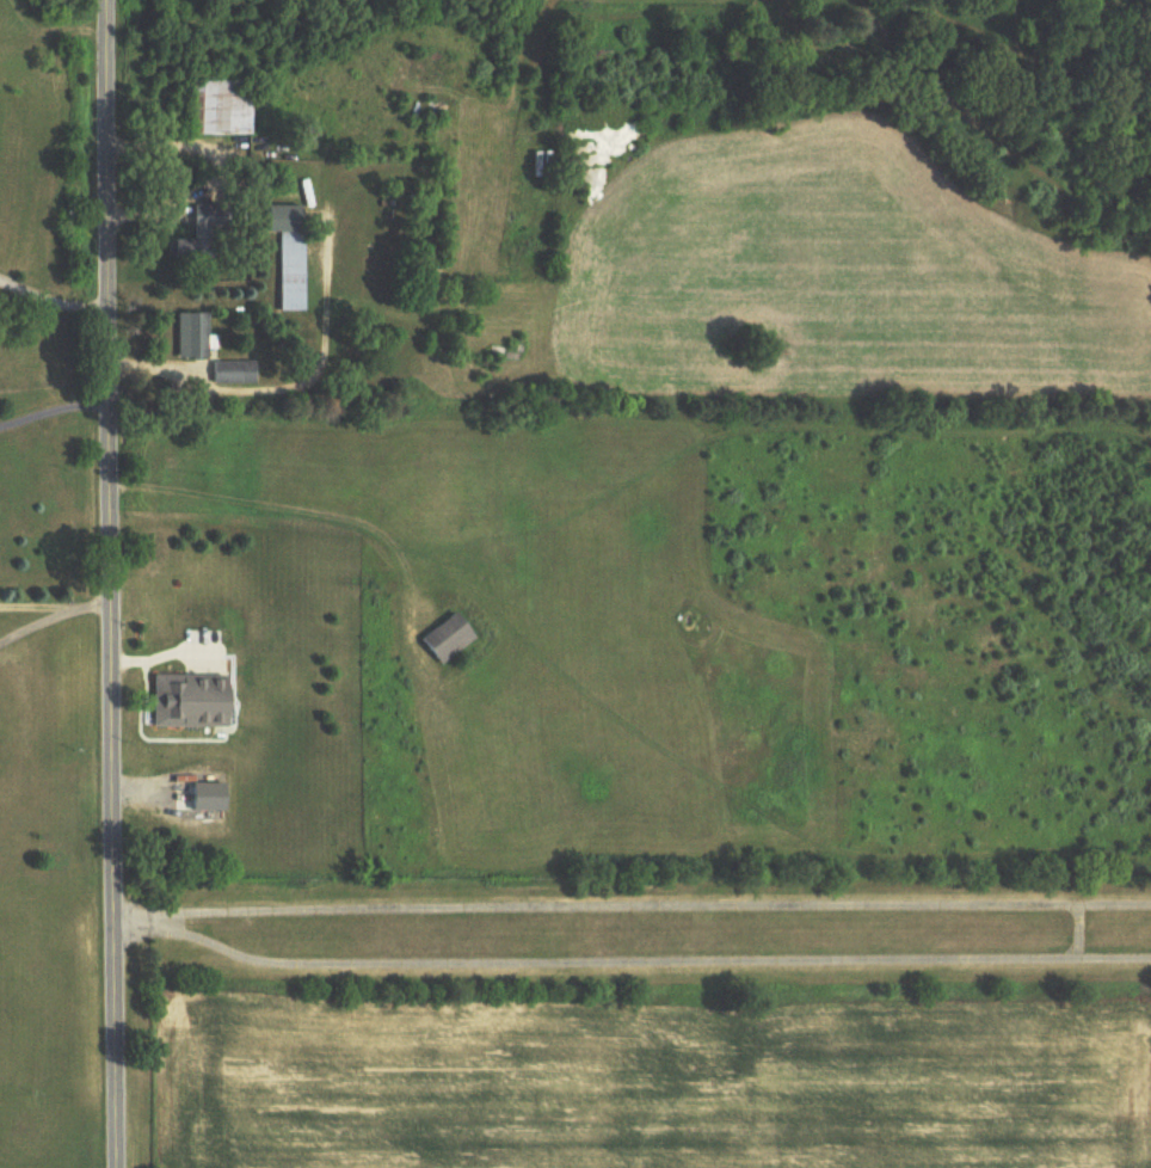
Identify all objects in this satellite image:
building: (208, 106)
building: (196, 234)
building: (281, 251)
building: (417, 283)
road: (53, 295)
building: (185, 334)
building: (229, 371)
road: (53, 405)
road: (109, 583)
road: (41, 601)
road: (51, 611)
building: (441, 638)
building: (183, 700)
road: (630, 909)
road: (1076, 932)
road: (646, 961)

